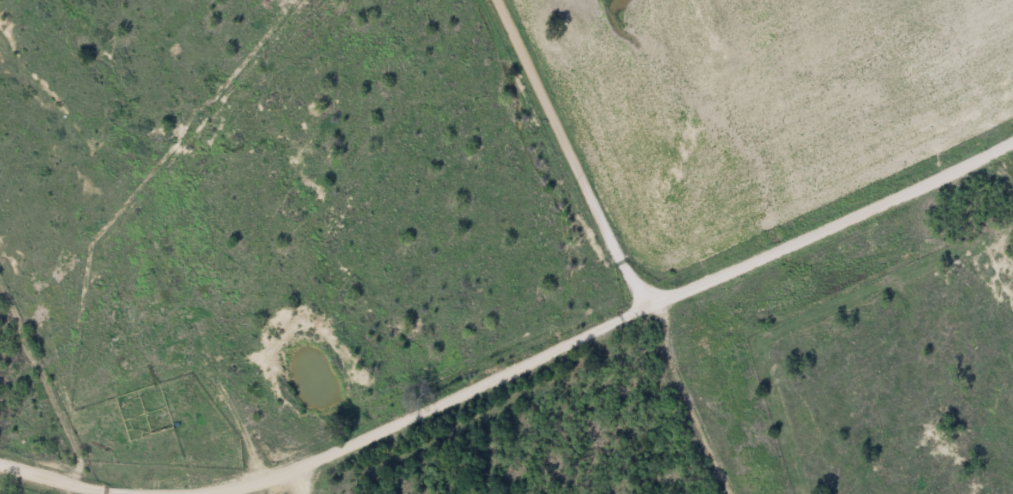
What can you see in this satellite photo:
road: (610, 256)
road: (645, 328)
road: (48, 479)

